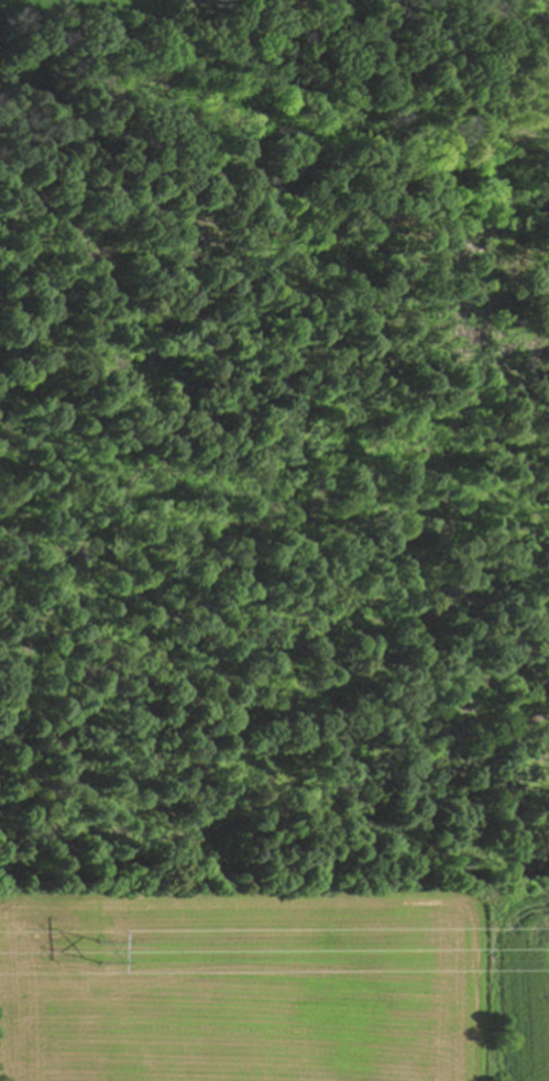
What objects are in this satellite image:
power tower: (105, 953)

